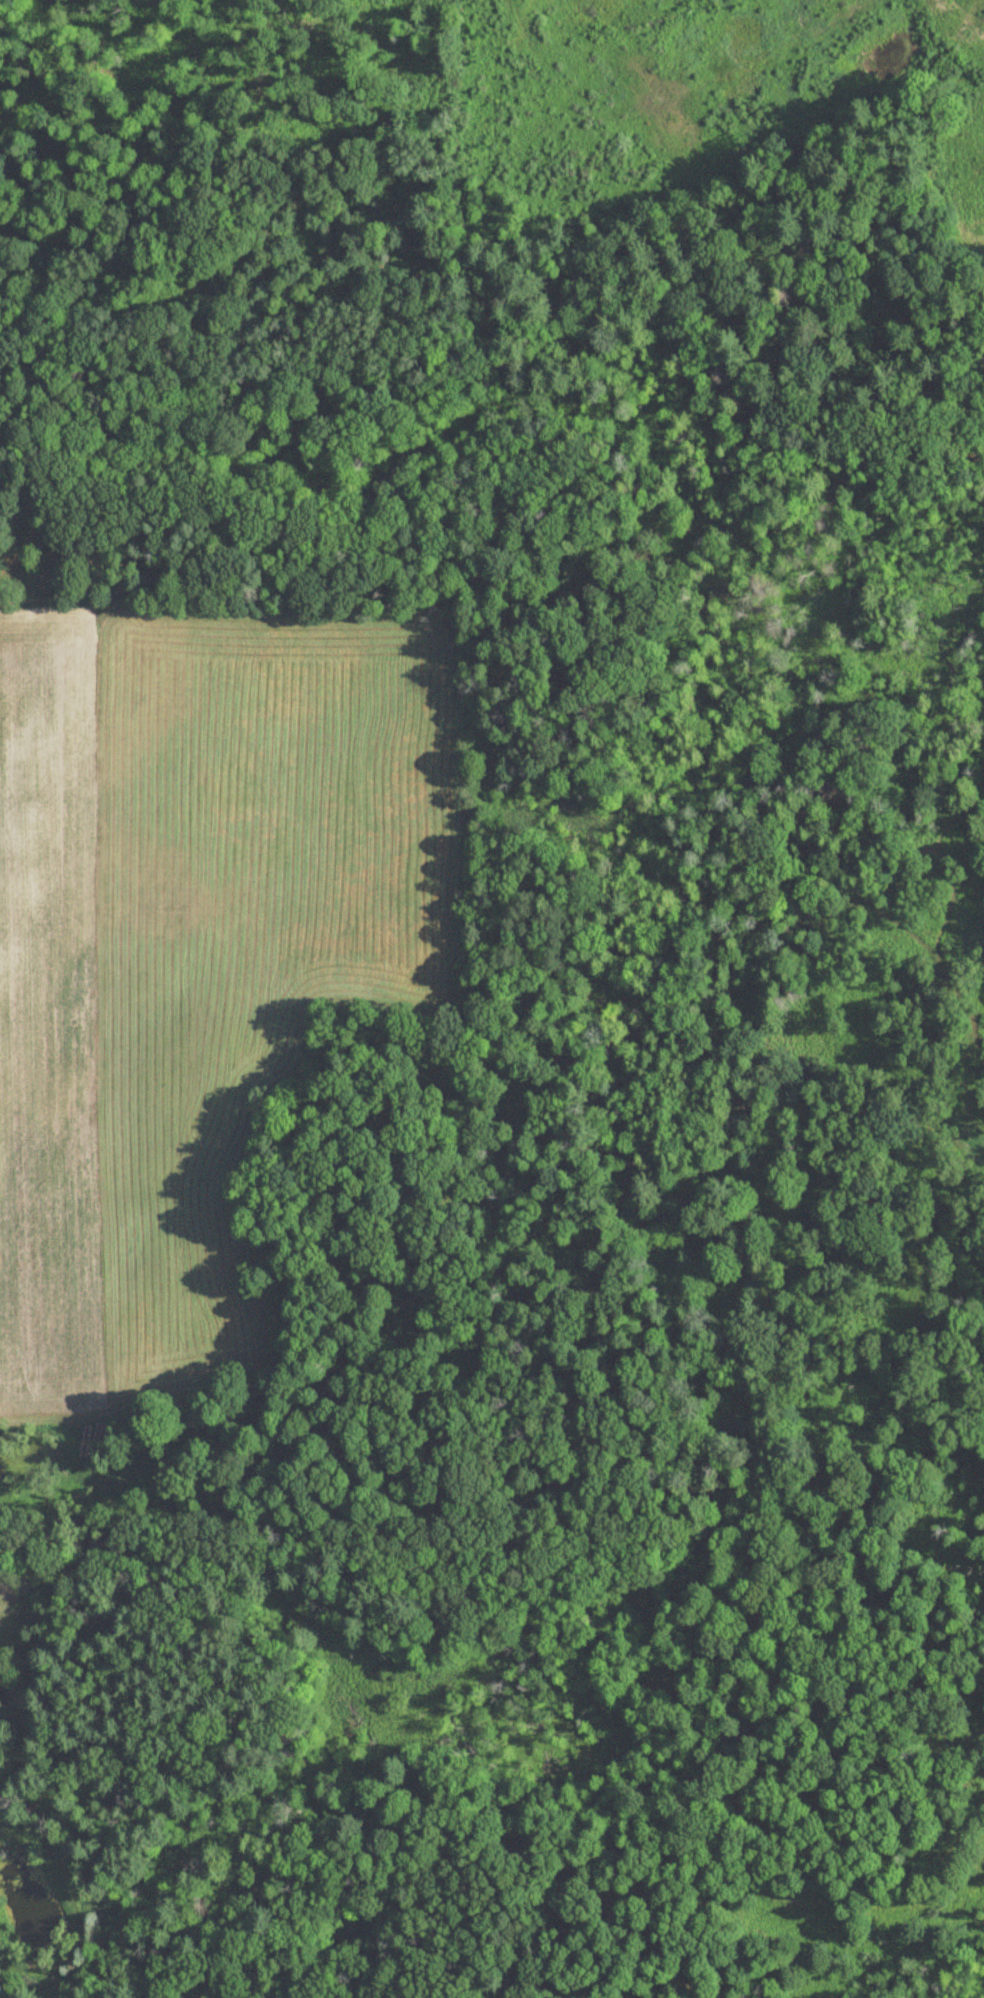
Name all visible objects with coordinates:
road: (361, 1548)

